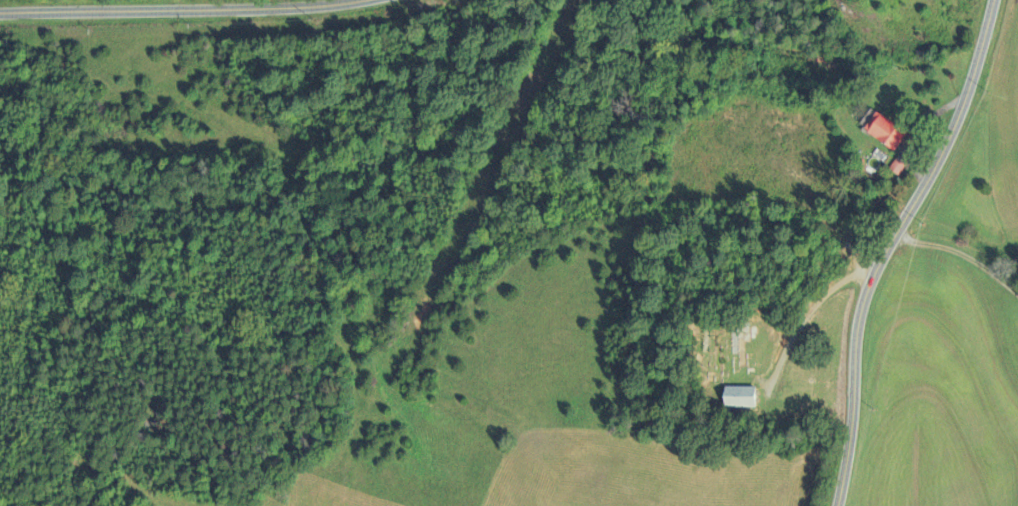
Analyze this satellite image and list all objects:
road: (185, 11)
building: (888, 132)
building: (899, 168)
road: (889, 245)
road: (961, 256)
road: (806, 315)
park: (727, 346)
building: (747, 400)

